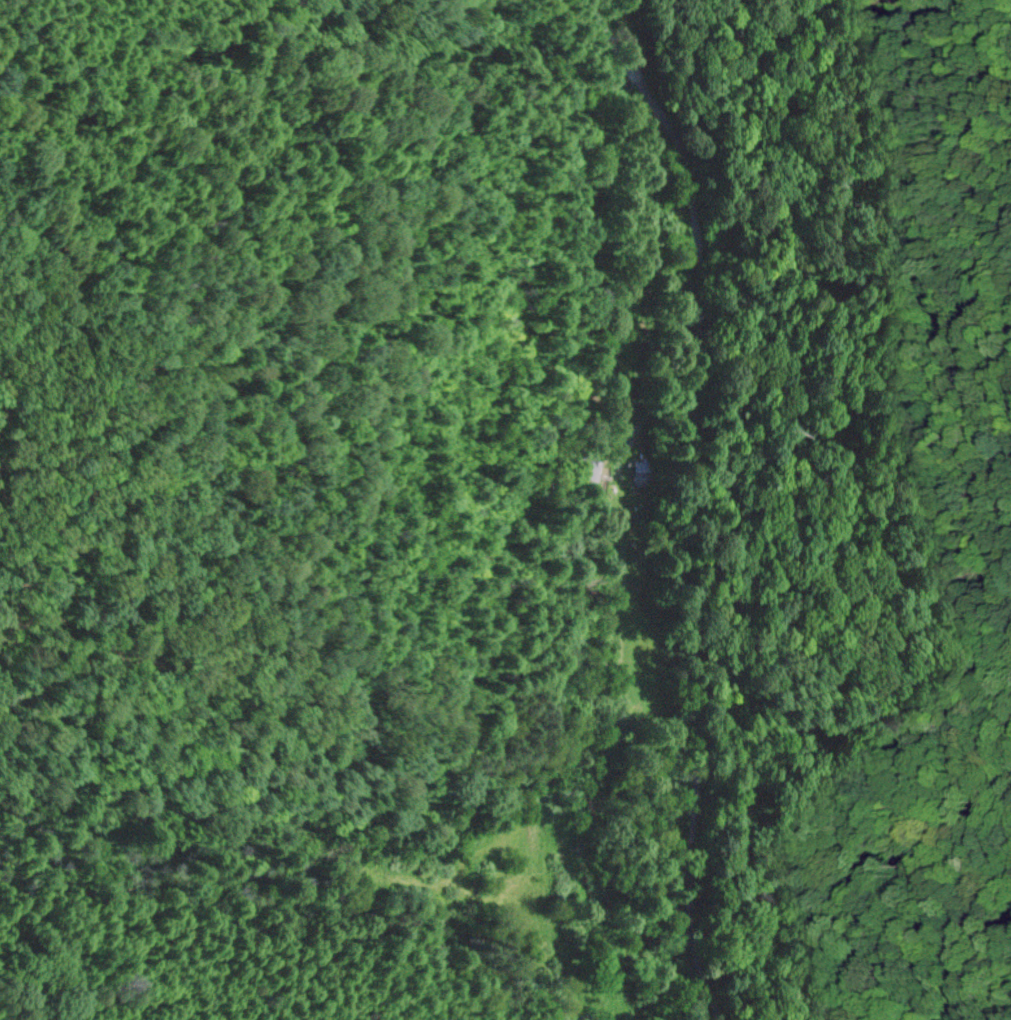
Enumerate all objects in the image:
building: (586, 469)
road: (699, 502)
road: (339, 746)

